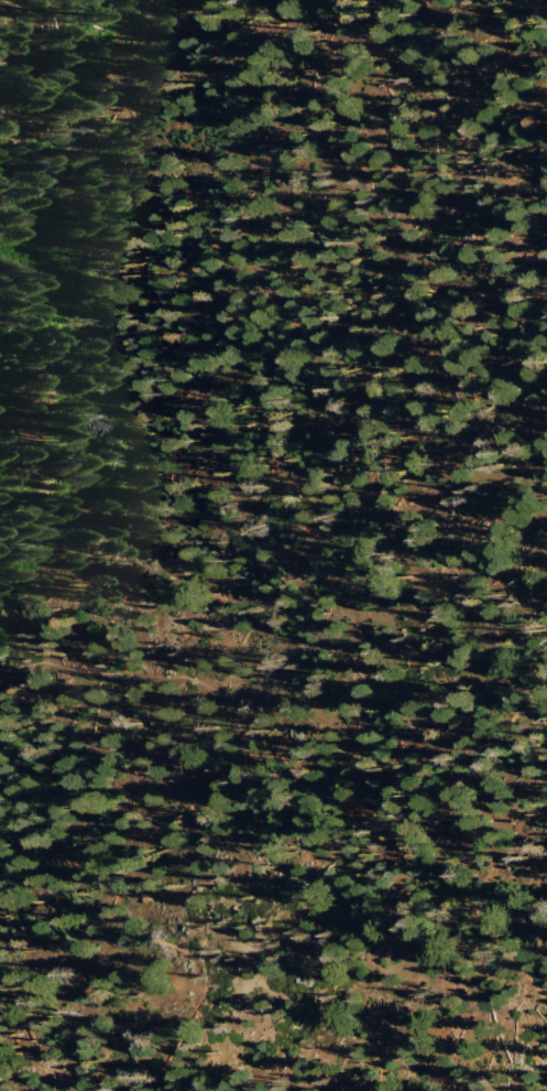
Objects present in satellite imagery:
road: (305, 760)

